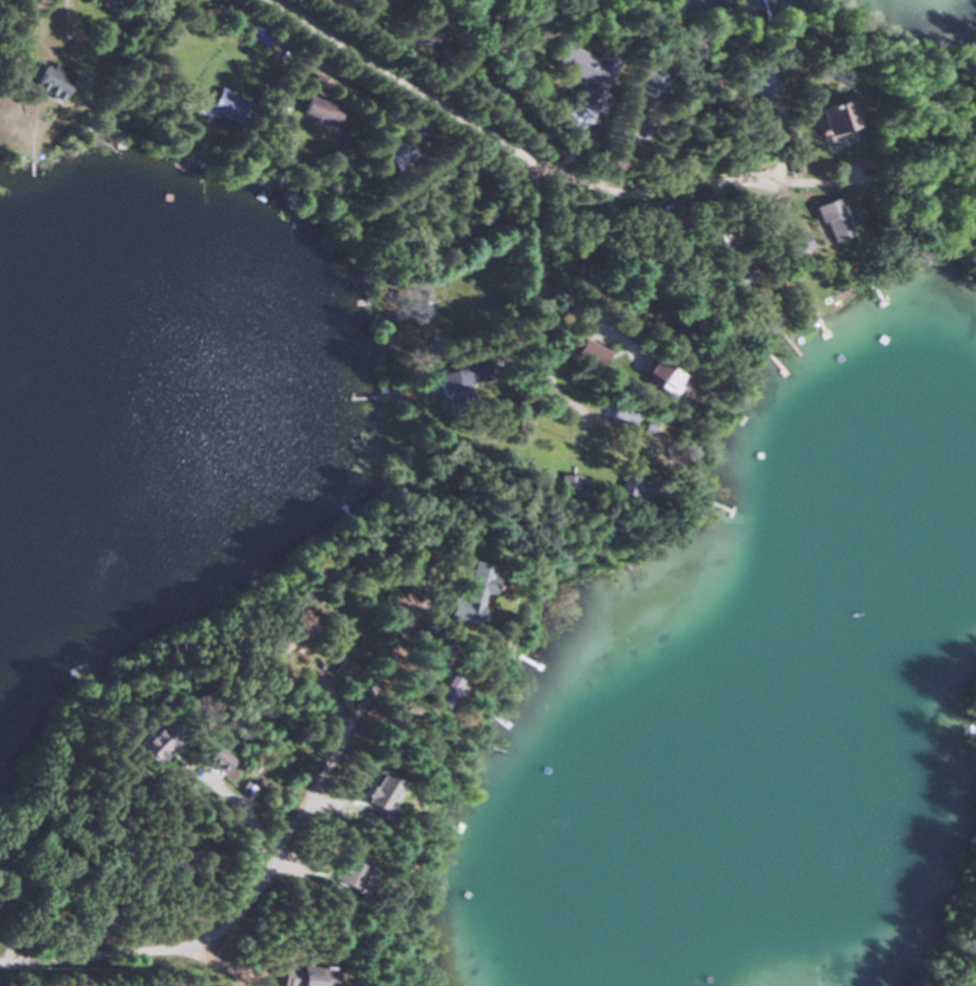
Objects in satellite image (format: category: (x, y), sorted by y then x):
building: (105, 1)
building: (257, 34)
road: (83, 45)
building: (579, 70)
building: (46, 81)
building: (755, 85)
building: (648, 86)
building: (220, 105)
building: (840, 108)
building: (316, 111)
building: (395, 155)
road: (548, 173)
building: (834, 227)
road: (540, 311)
building: (585, 353)
building: (460, 375)
building: (650, 376)
building: (615, 414)
building: (621, 483)
building: (464, 593)
building: (441, 688)
building: (148, 743)
building: (213, 762)
building: (375, 794)
road: (233, 803)
road: (259, 864)
building: (342, 874)
building: (296, 976)

